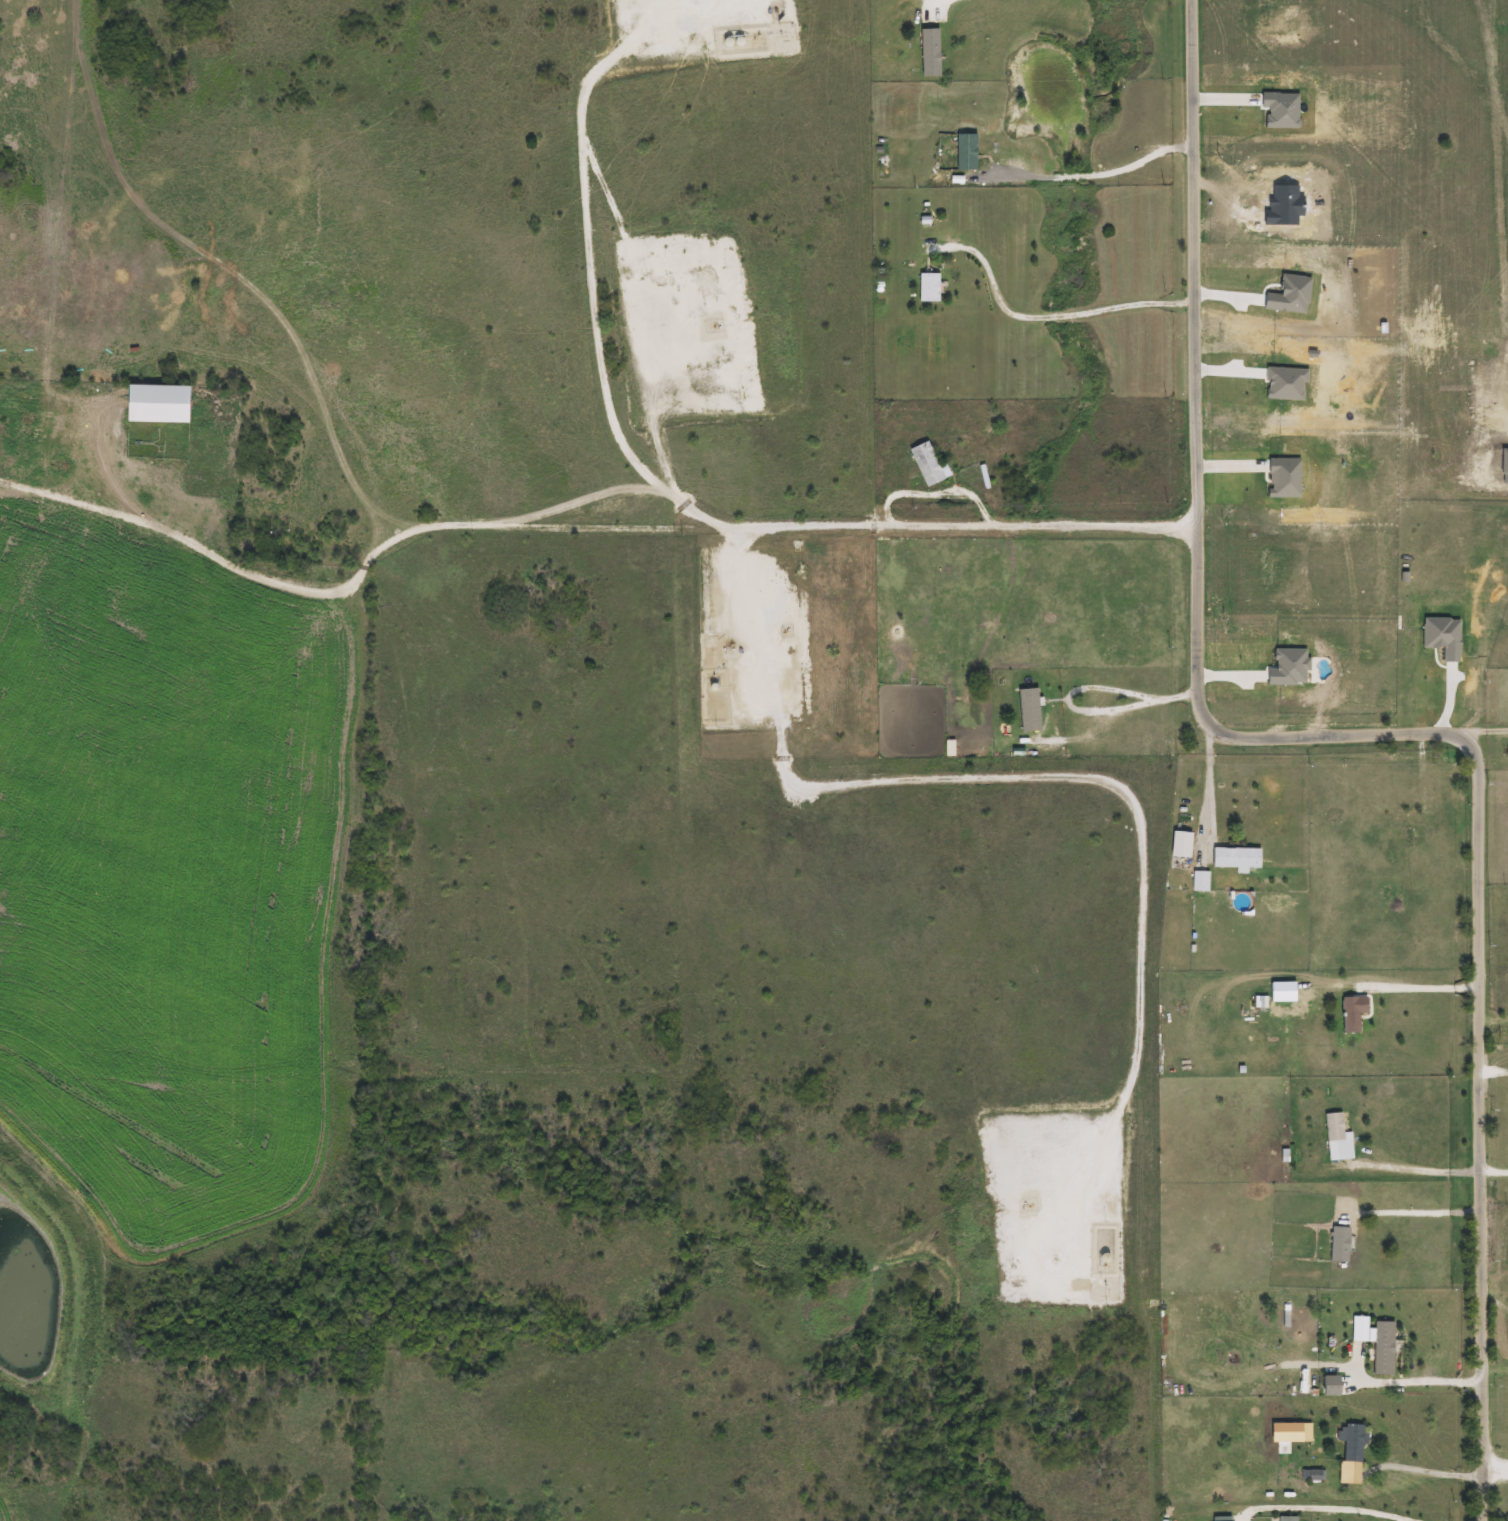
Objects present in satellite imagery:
road: (943, 2)
building: (927, 53)
road: (1089, 175)
building: (927, 288)
road: (1044, 321)
building: (151, 404)
building: (925, 465)
road: (451, 525)
road: (968, 527)
road: (1081, 687)
building: (1028, 710)
road: (1485, 730)
road: (1363, 738)
road: (1206, 782)
building: (1396, 824)
building: (1233, 857)
building: (1197, 882)
road: (1423, 987)
building: (1350, 1013)
building: (1332, 1127)
road: (1496, 1169)
road: (1418, 1170)
road: (1413, 1210)
building: (1338, 1244)
building: (1375, 1309)
building: (1382, 1348)
road: (1412, 1381)
building: (1352, 1443)
road: (1428, 1466)
road: (1357, 1505)
road: (449, 1509)
building: (1257, 1519)
building: (1286, 1519)

